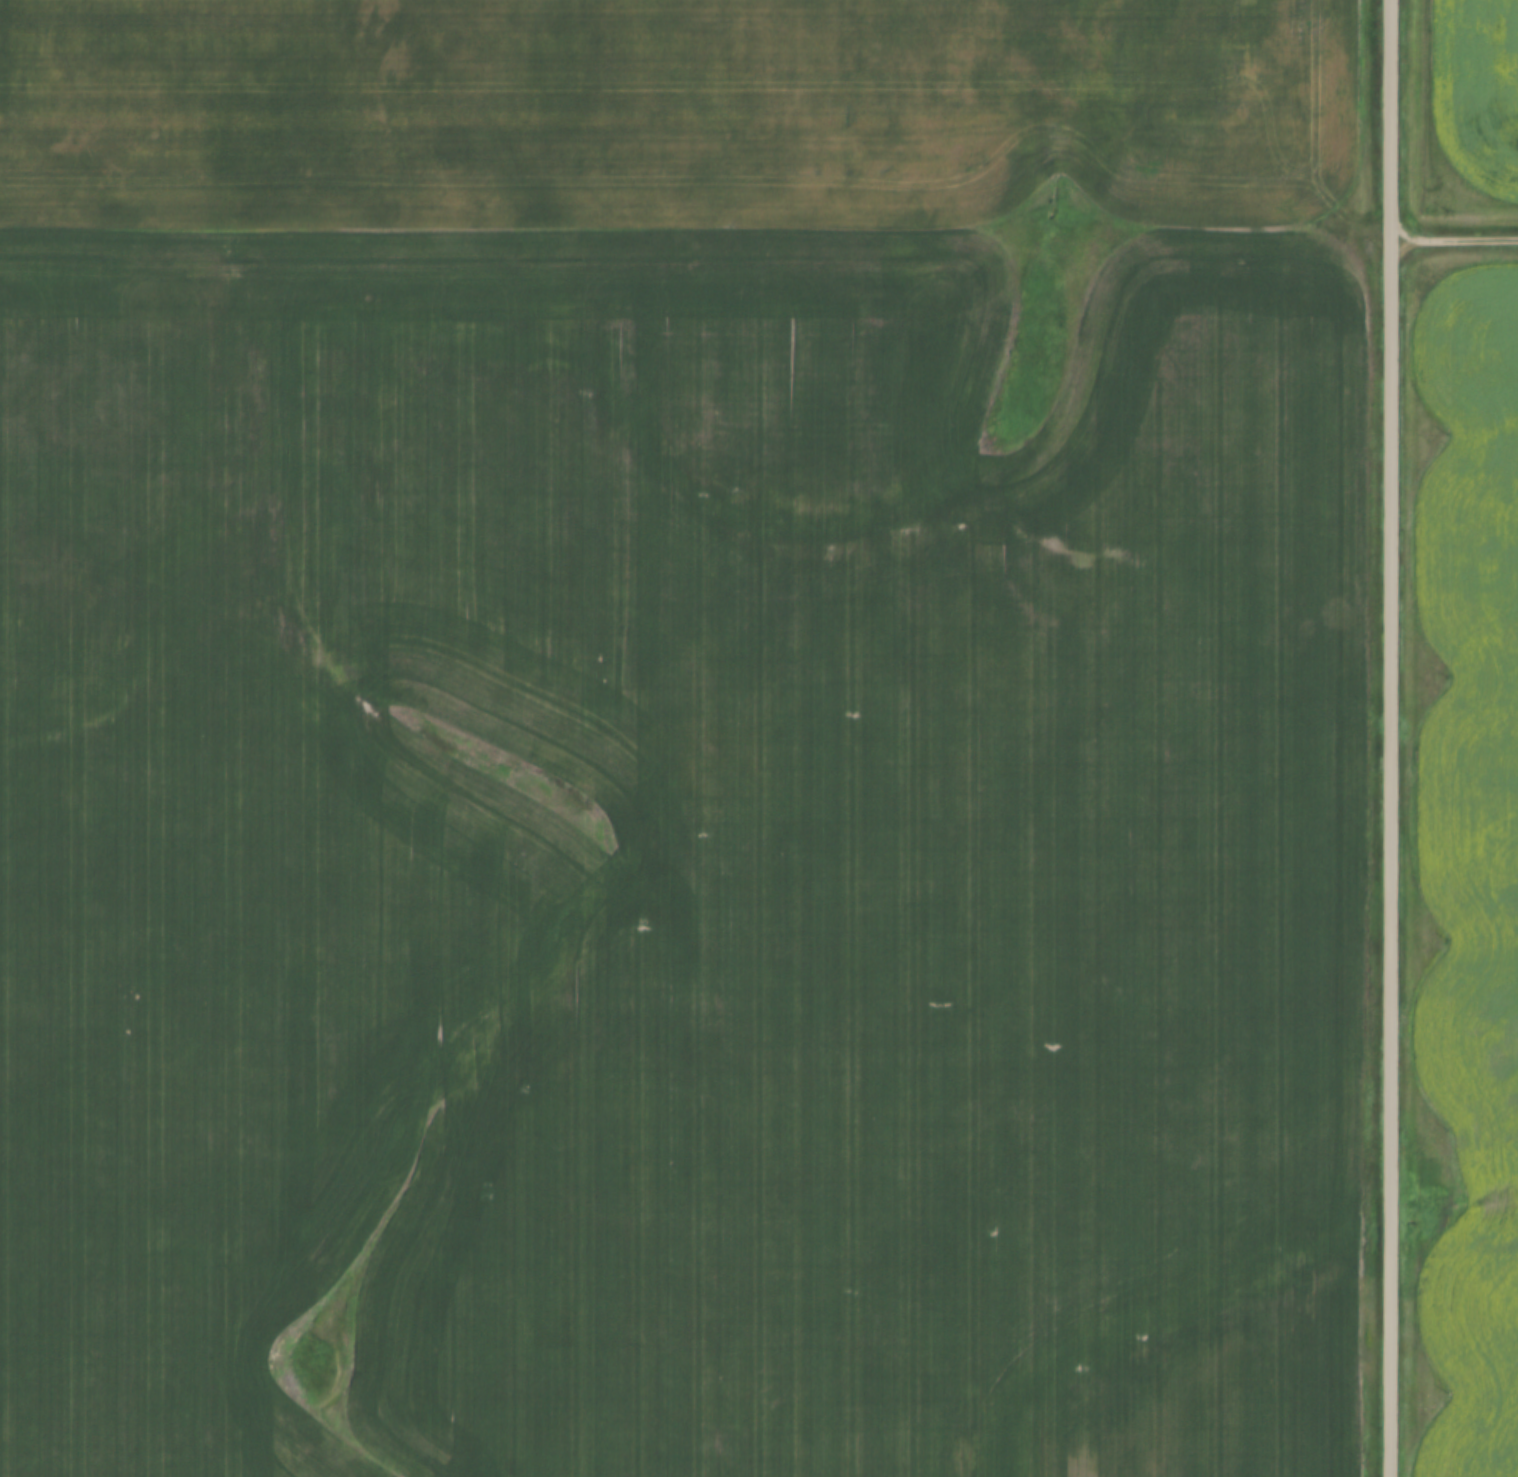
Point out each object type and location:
road: (1453, 237)
road: (1387, 738)

